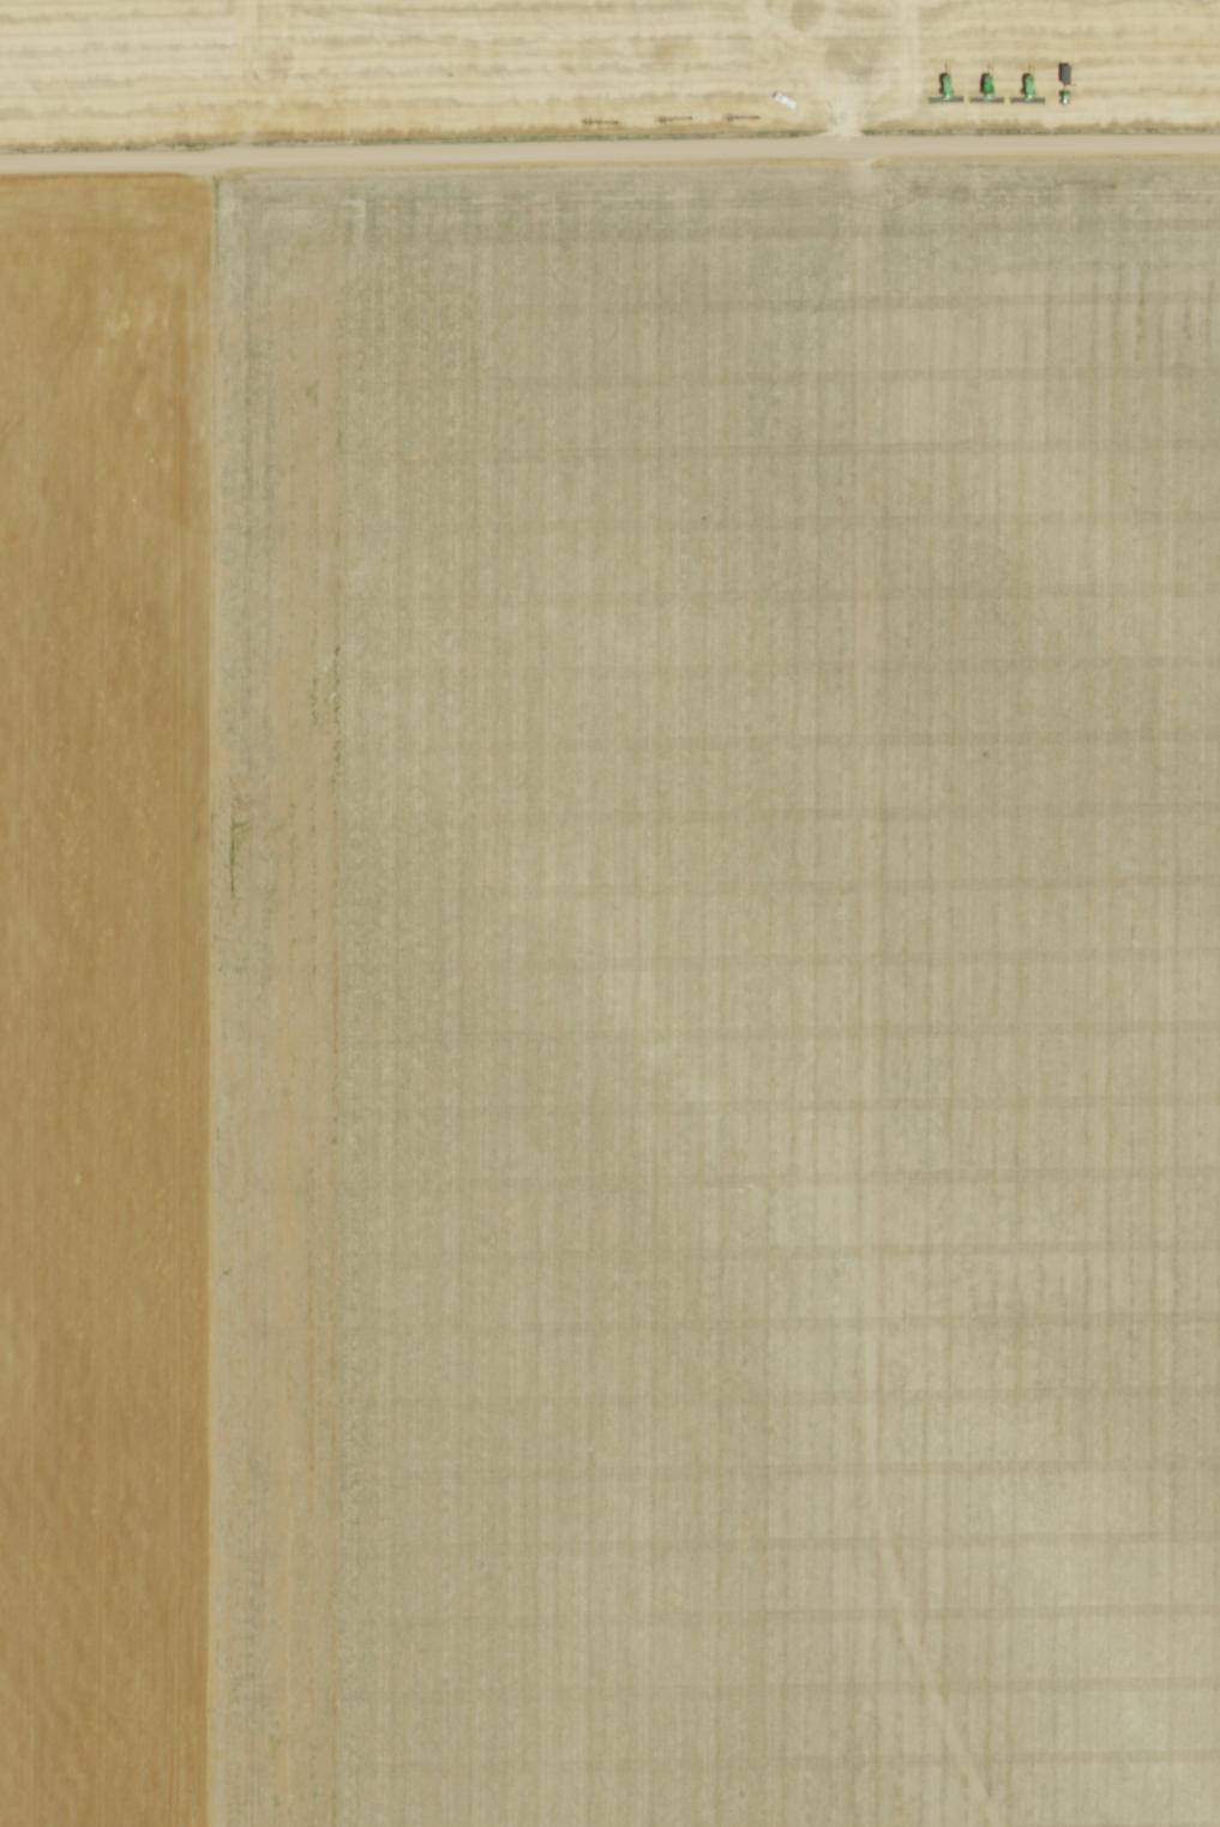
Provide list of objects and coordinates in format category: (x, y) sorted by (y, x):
crop: (606, 66)
road: (609, 149)
crop: (611, 998)

